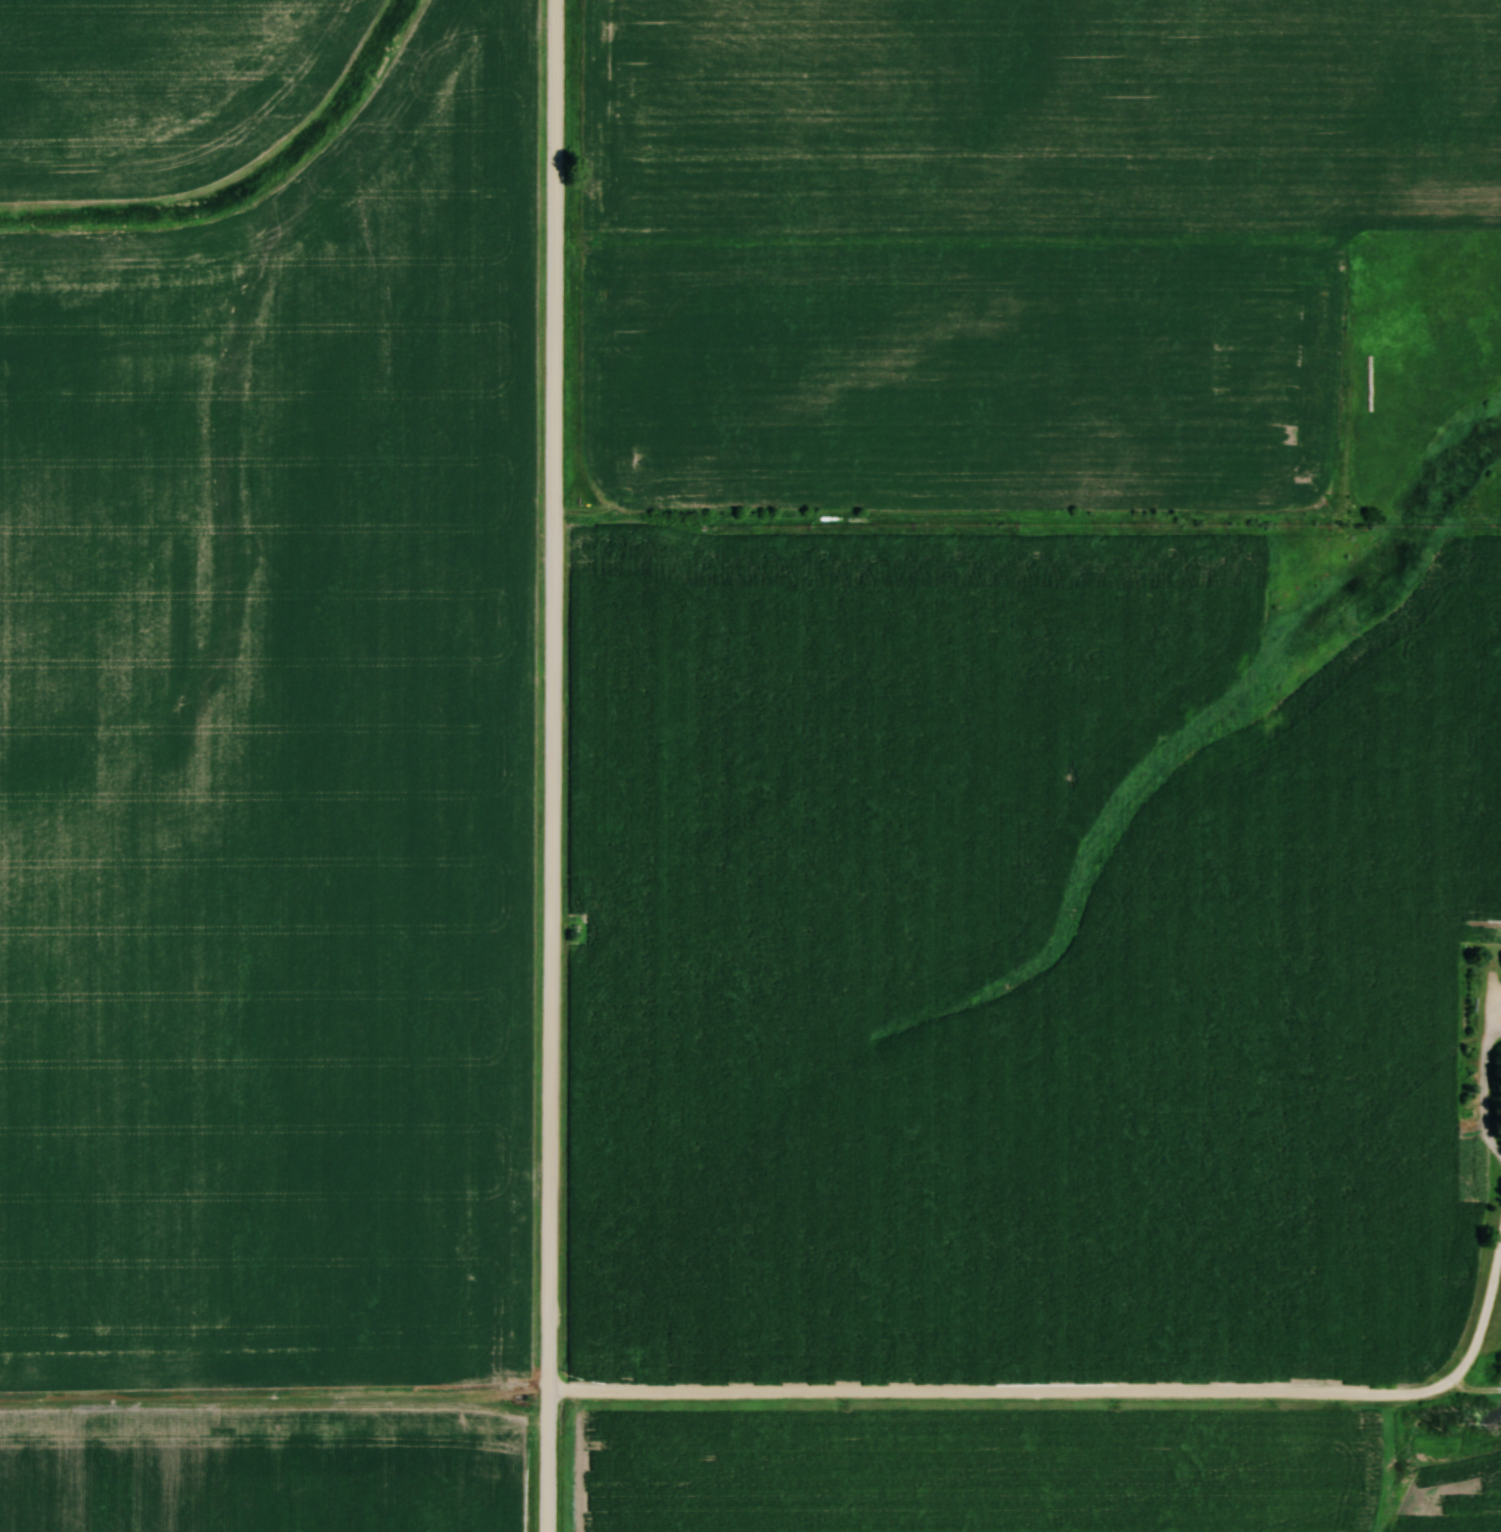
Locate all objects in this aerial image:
road: (555, 766)
road: (1073, 1391)

